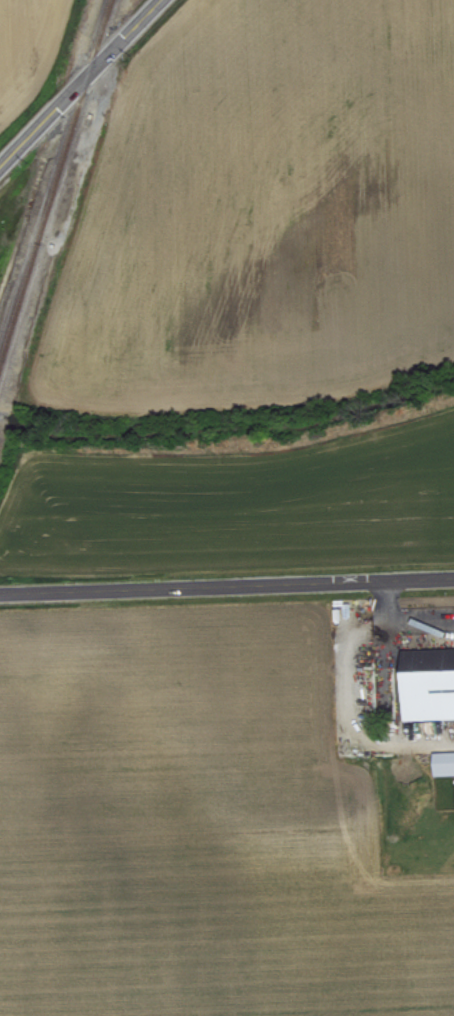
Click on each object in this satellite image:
road: (81, 84)
railway: (56, 184)
road: (227, 585)
road: (404, 620)
building: (428, 683)

